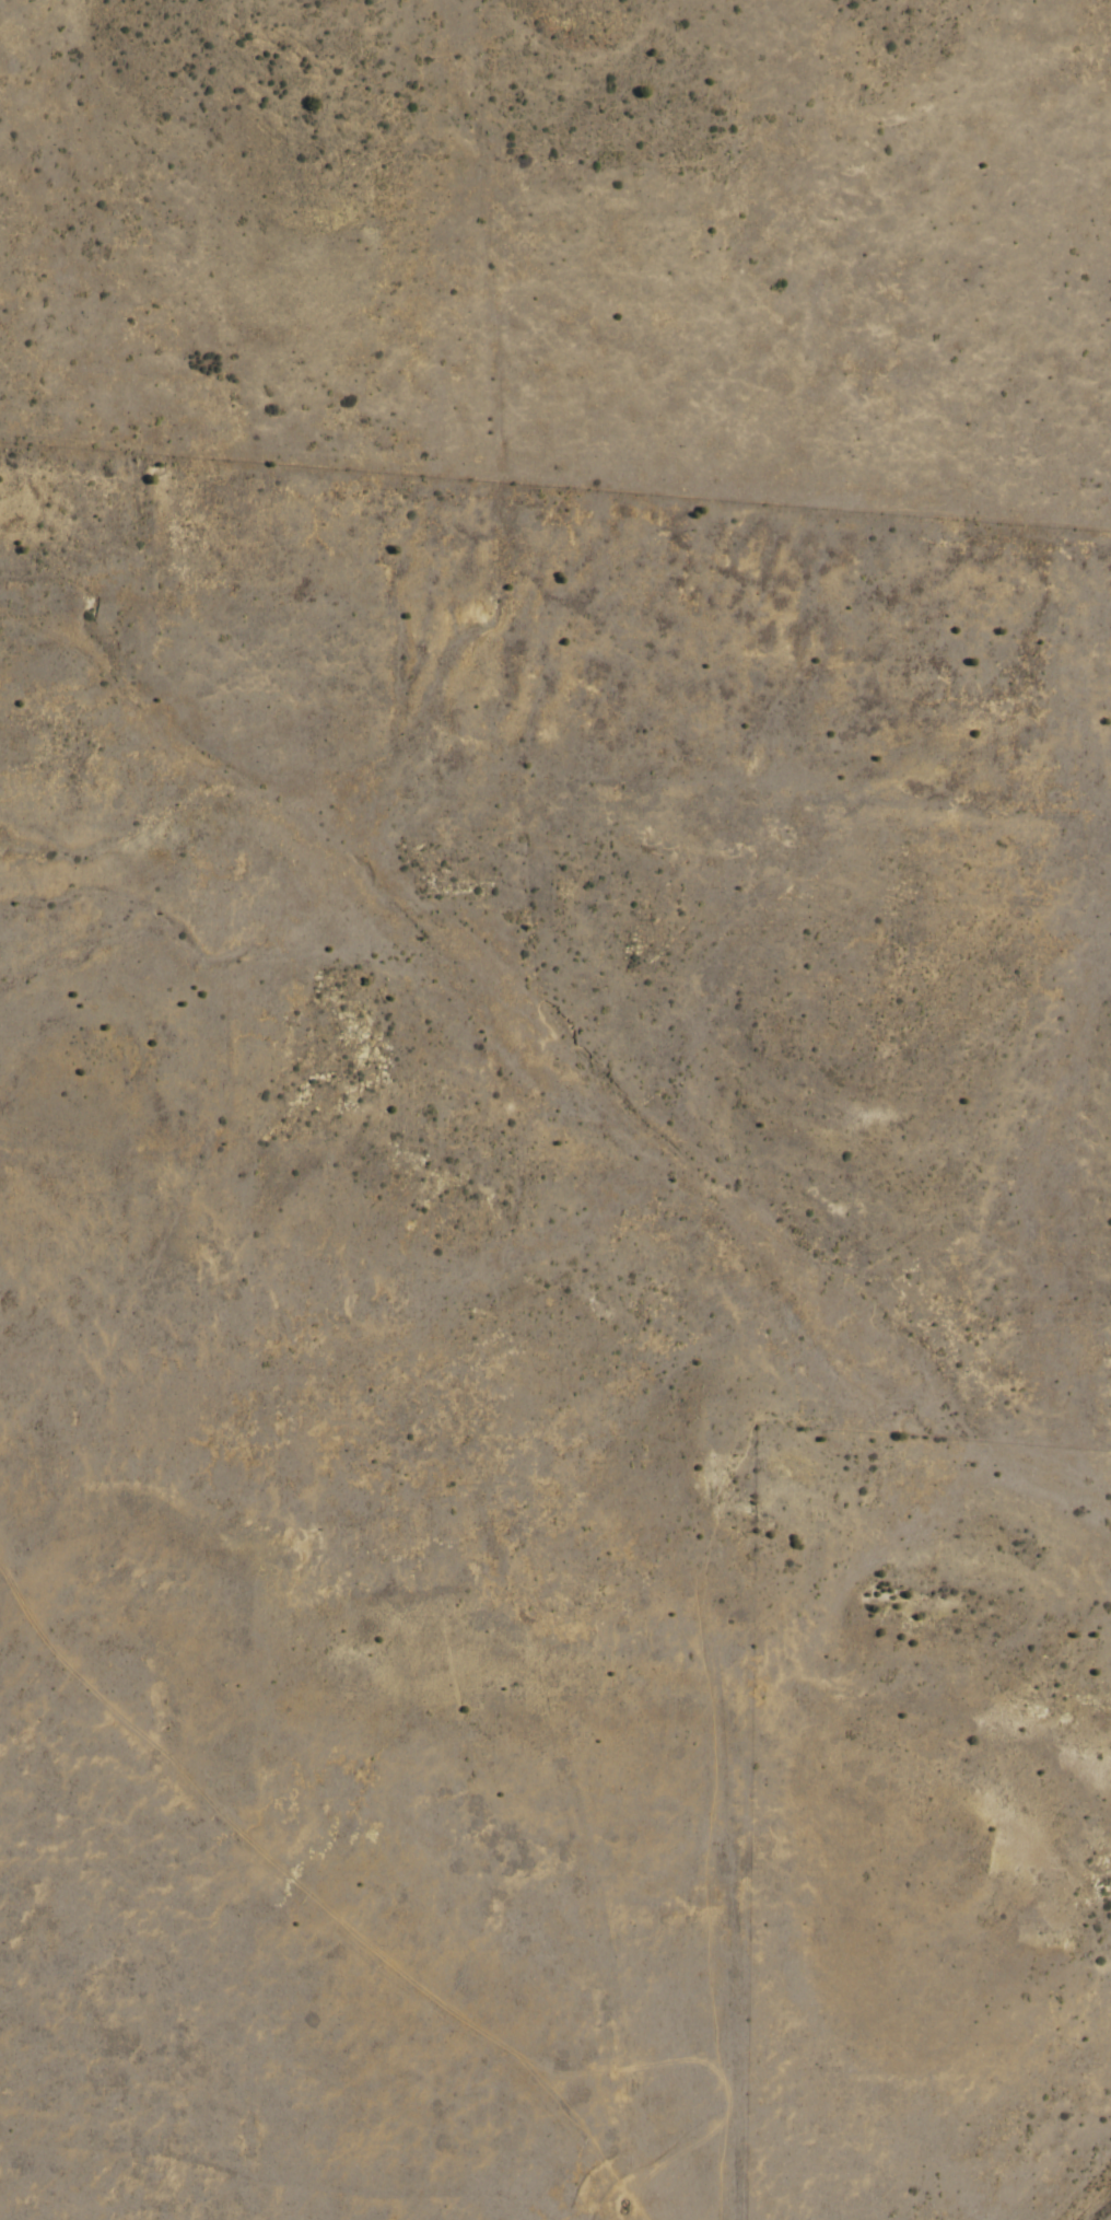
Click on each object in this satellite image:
road: (35, 13)

